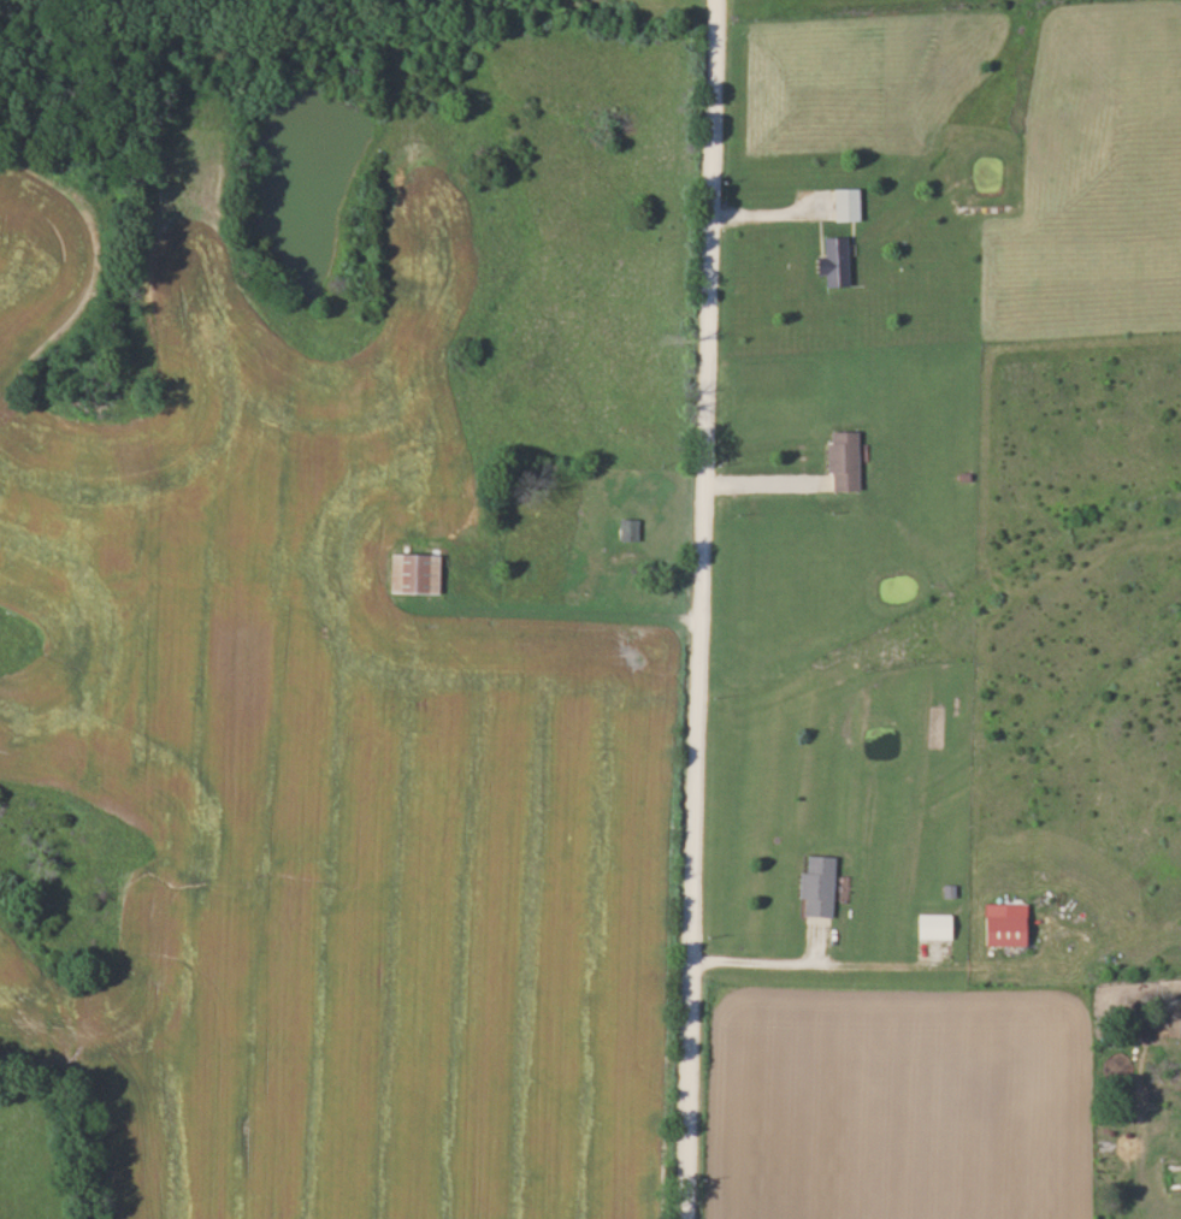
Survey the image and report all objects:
building: (829, 262)
building: (839, 461)
building: (632, 508)
building: (408, 575)
road: (705, 609)
building: (814, 886)
building: (999, 929)

